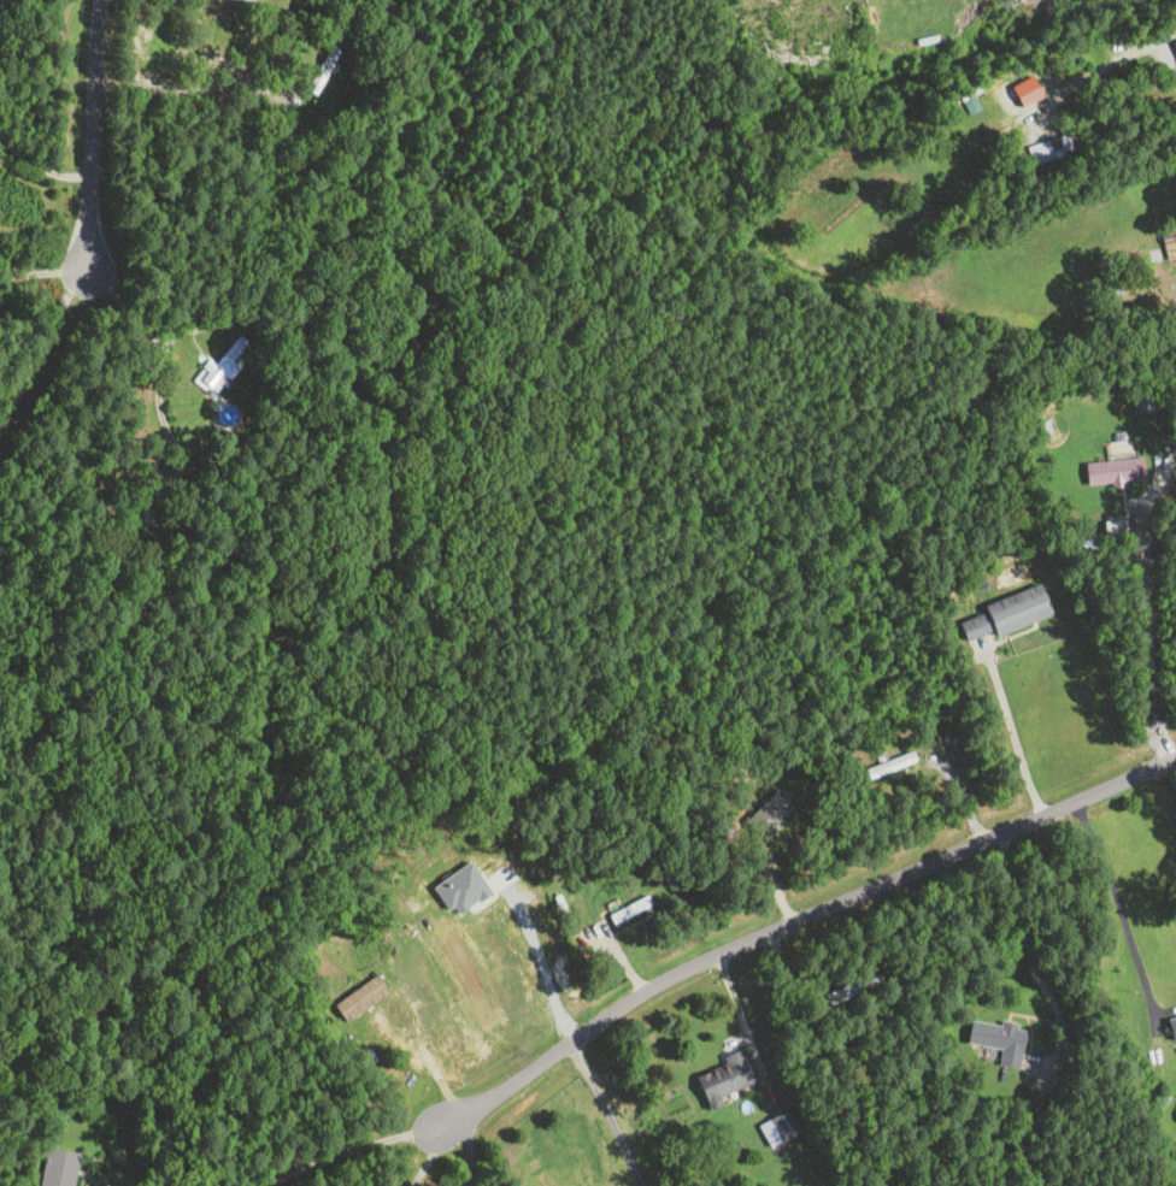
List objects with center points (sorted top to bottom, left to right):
road: (1148, 40)
building: (1174, 46)
building: (324, 69)
road: (188, 84)
building: (970, 117)
road: (94, 134)
building: (1048, 148)
road: (43, 165)
building: (1169, 242)
road: (45, 264)
road: (193, 325)
road: (160, 335)
road: (43, 347)
building: (225, 361)
building: (1121, 446)
building: (1112, 470)
building: (1004, 613)
road: (1141, 651)
road: (1013, 733)
building: (889, 765)
building: (628, 909)
road: (1121, 909)
road: (793, 921)
road: (1022, 943)
road: (536, 958)
building: (998, 1039)
building: (1175, 1051)
building: (724, 1078)
road: (606, 1111)
building: (780, 1127)
road: (471, 1147)
road: (348, 1150)
road: (428, 1161)
building: (59, 1167)

